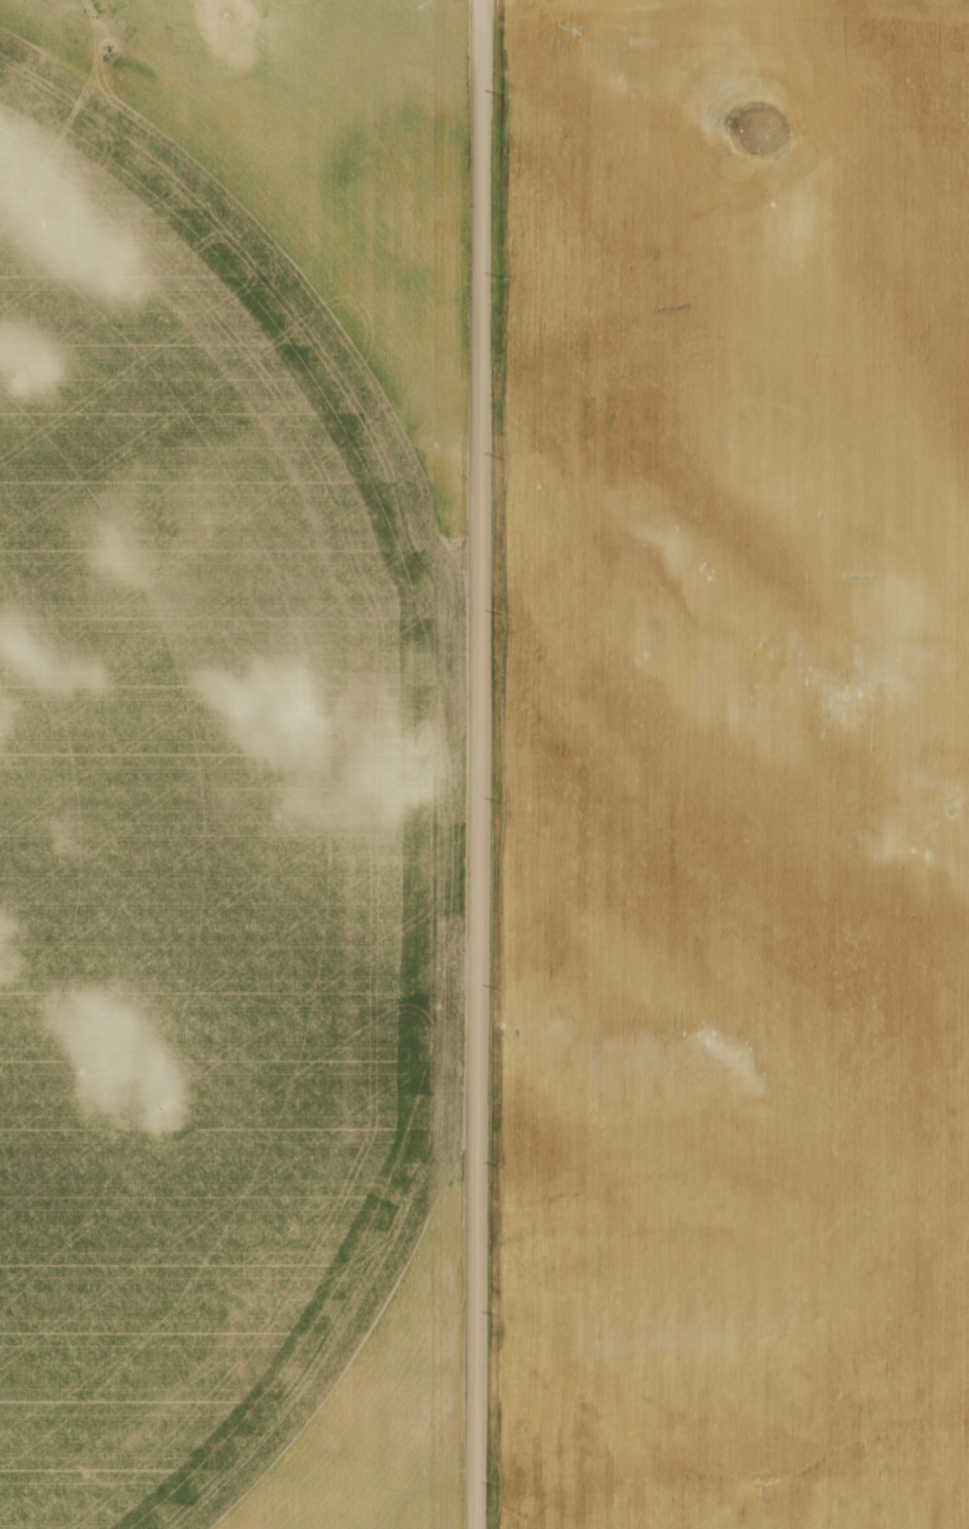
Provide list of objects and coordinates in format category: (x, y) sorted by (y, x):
crop: (230, 762)
road: (479, 764)
crop: (735, 766)

